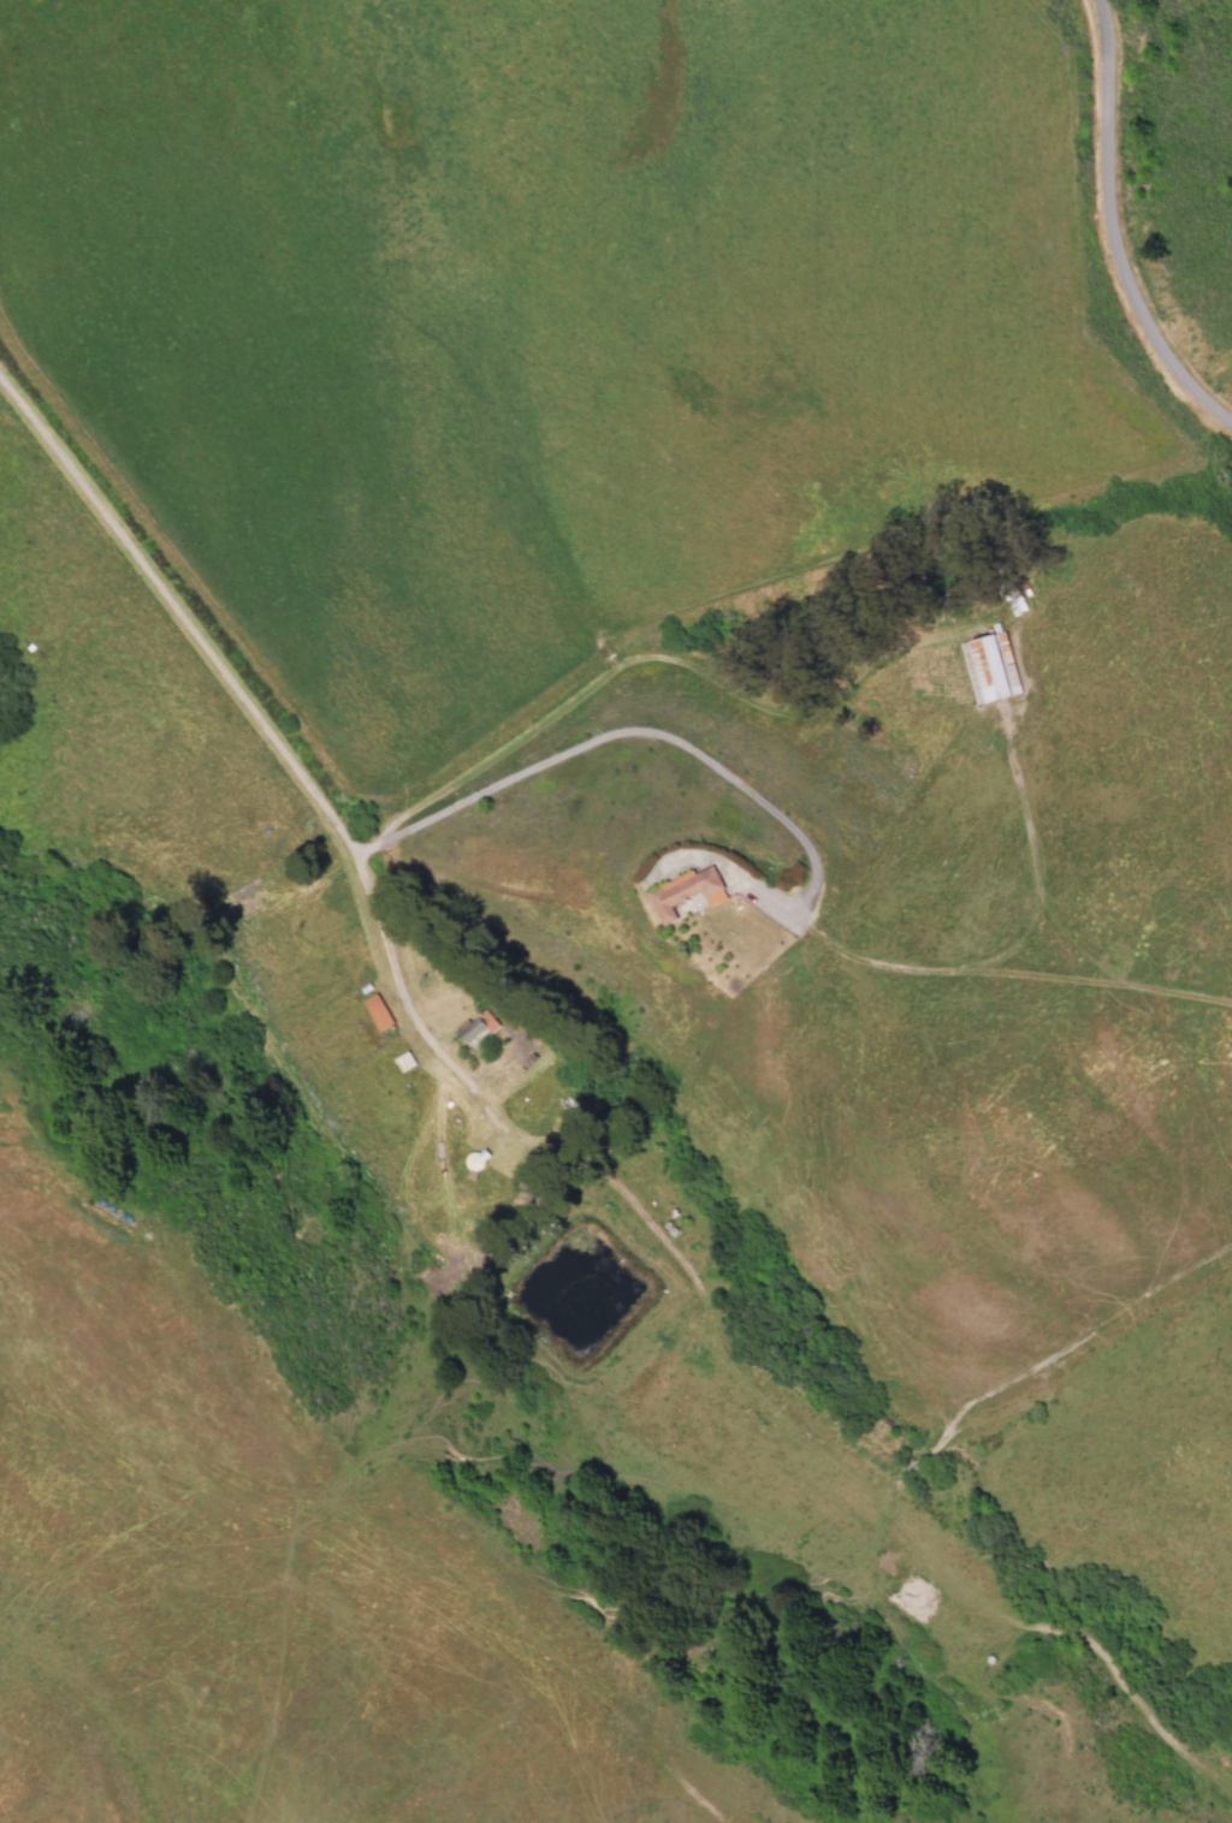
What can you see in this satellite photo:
road: (1114, 232)
road: (179, 619)
building: (979, 659)
road: (626, 734)
building: (679, 886)
road: (405, 1009)
building: (377, 1011)
building: (470, 1027)
road: (692, 1281)
wastewater plant: (574, 1289)

